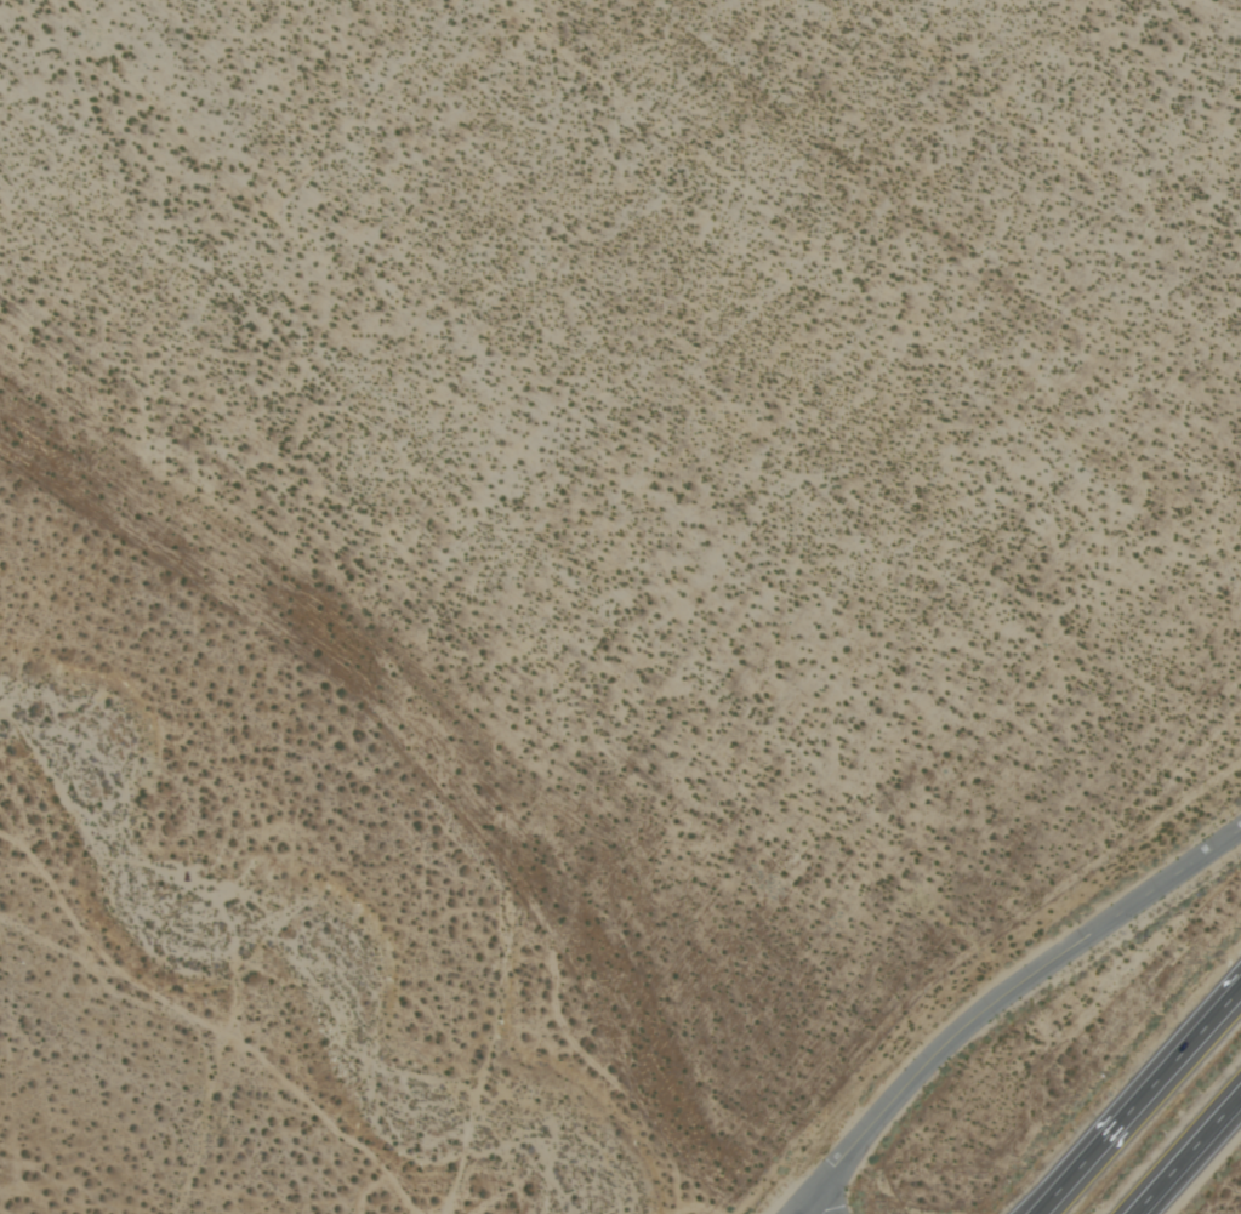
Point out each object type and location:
road: (997, 1001)
road: (1140, 1101)
road: (1189, 1156)
road: (808, 1208)

